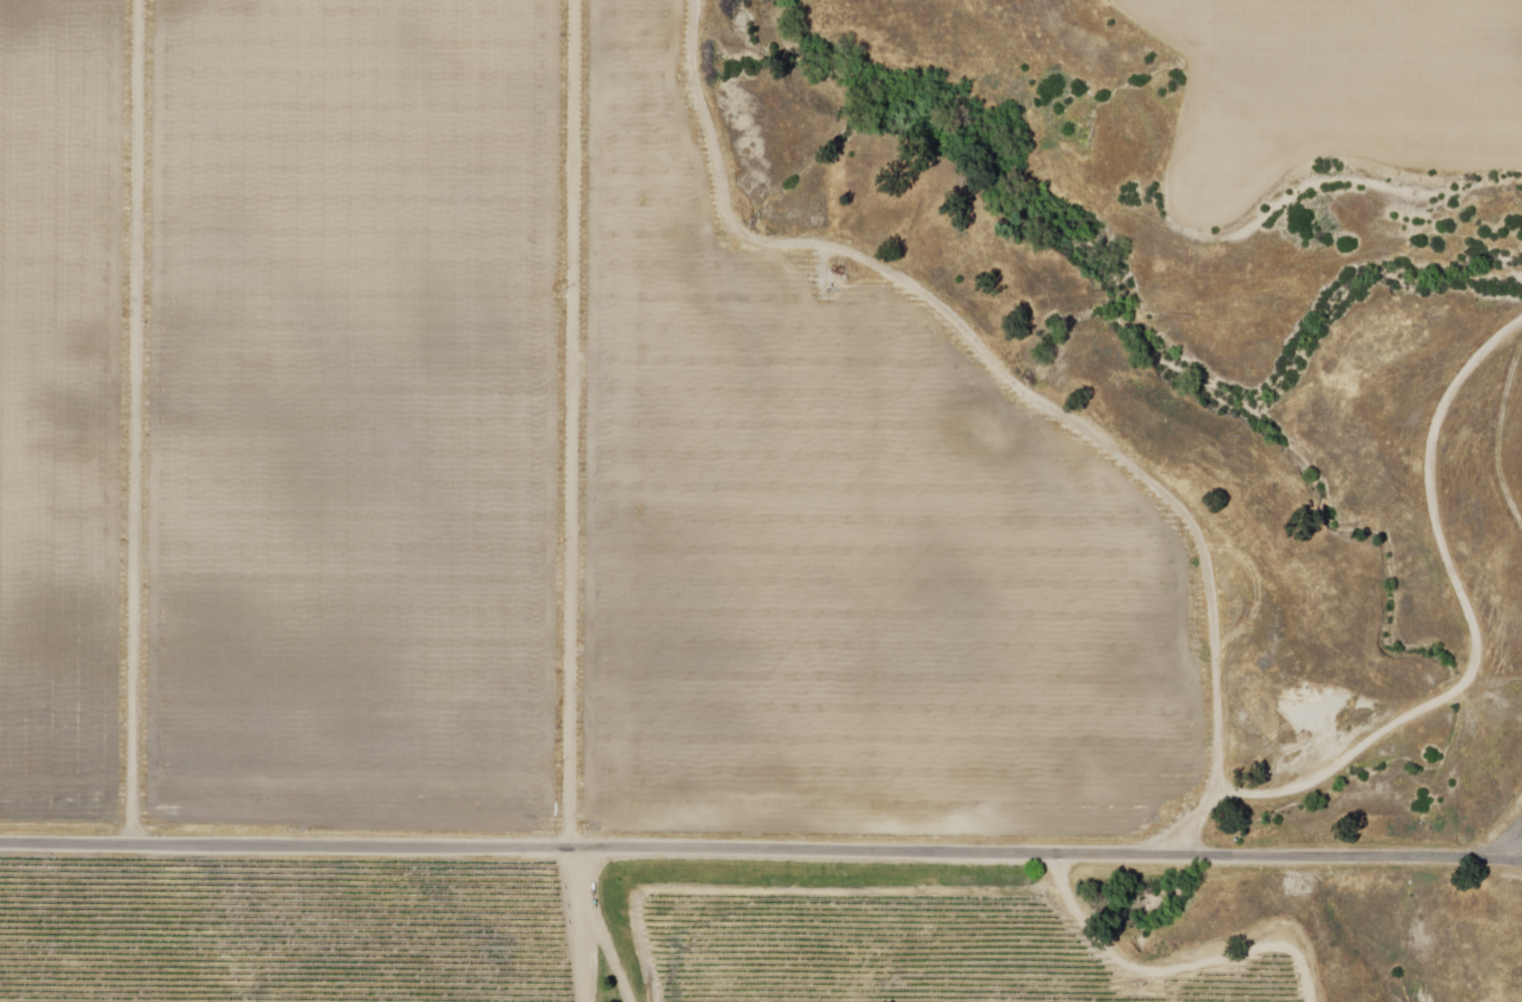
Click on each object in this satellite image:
road: (1018, 387)
road: (136, 422)
road: (572, 424)
road: (1498, 435)
road: (1473, 623)
road: (761, 851)
road: (597, 927)
road: (586, 953)
road: (1175, 970)

